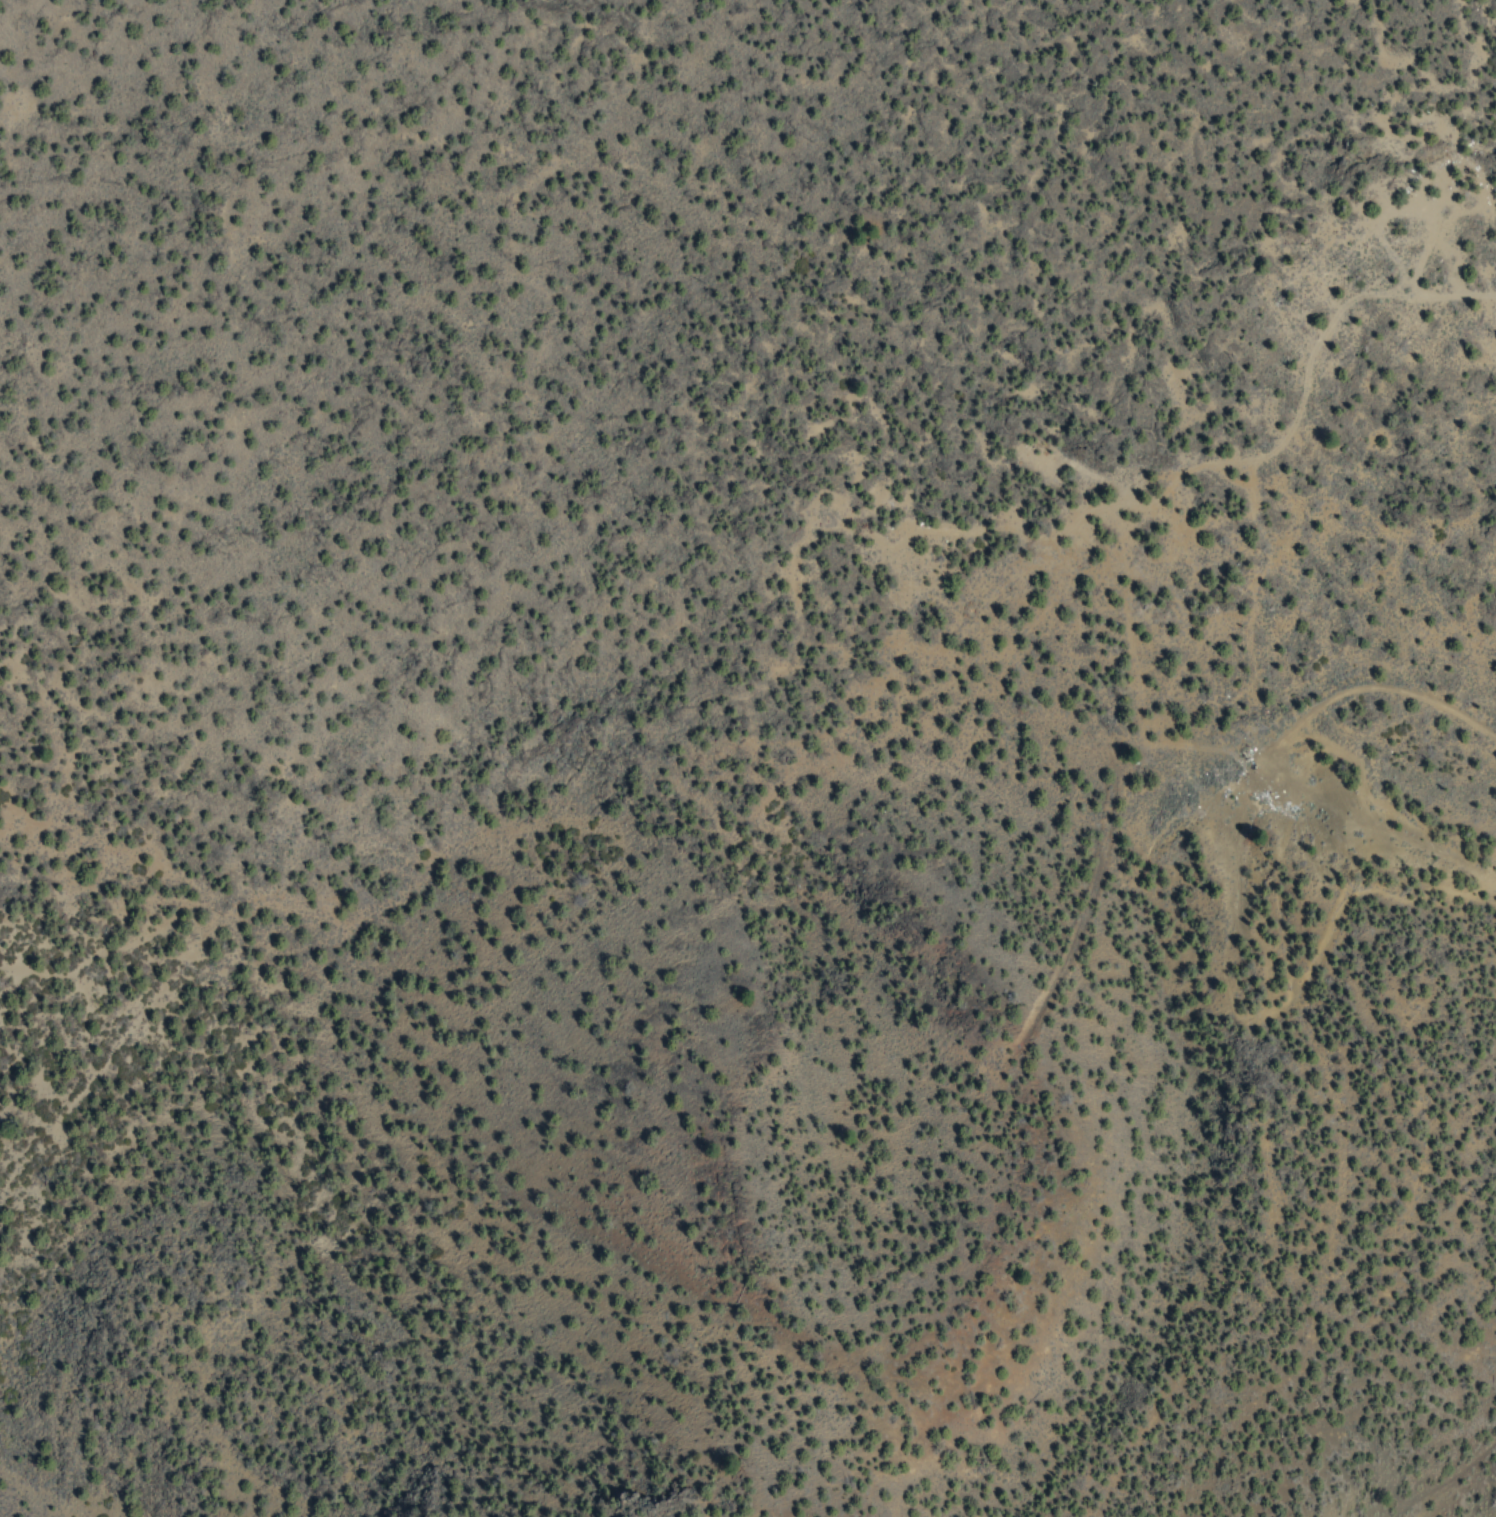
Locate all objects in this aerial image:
road: (1392, 686)
quarry: (1436, 1496)

